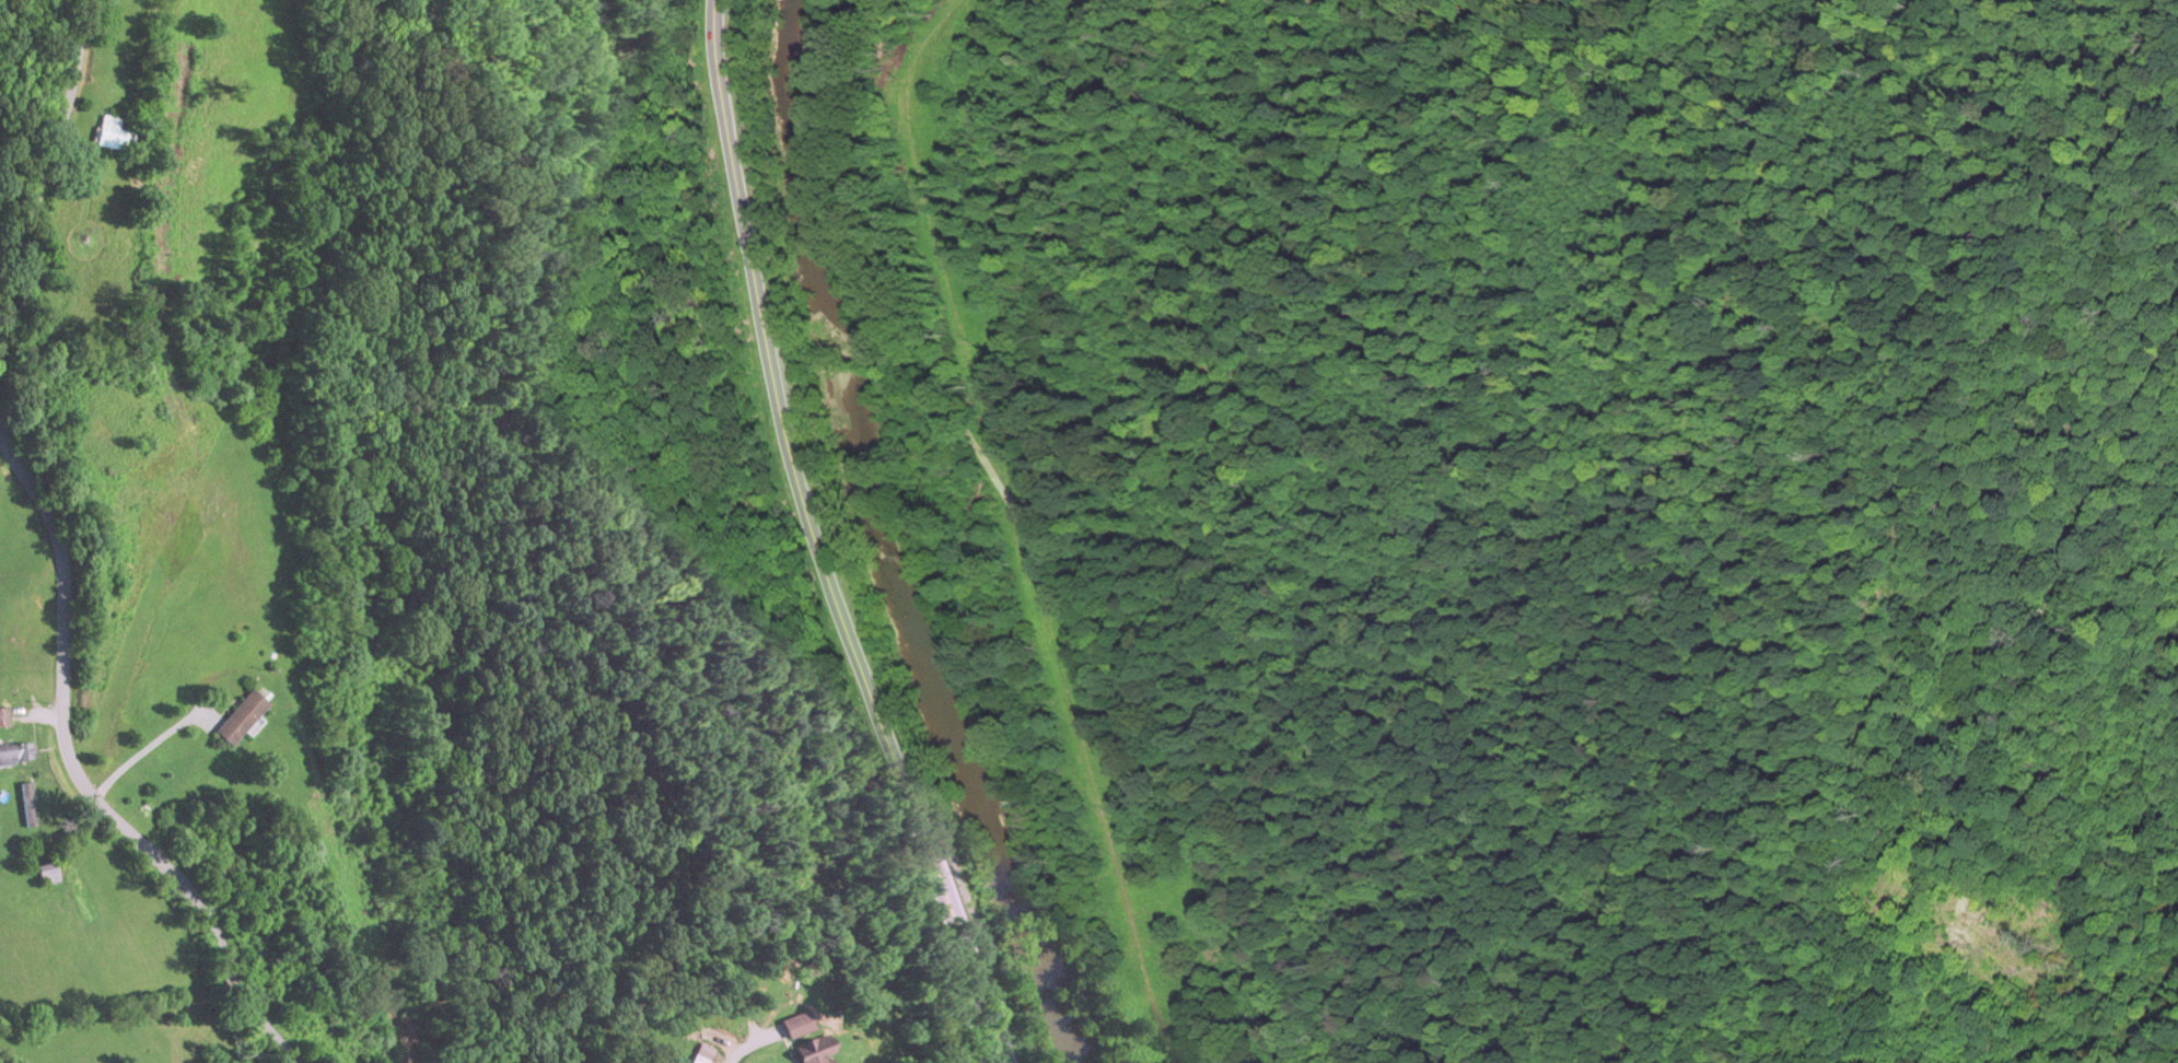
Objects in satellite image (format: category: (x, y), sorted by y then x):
building: (116, 137)
road: (45, 166)
road: (1029, 439)
road: (815, 540)
river: (894, 540)
building: (4, 717)
building: (243, 719)
building: (15, 755)
road: (78, 780)
building: (28, 806)
building: (48, 875)
building: (804, 1026)
road: (754, 1046)
building: (825, 1050)
building: (703, 1054)

